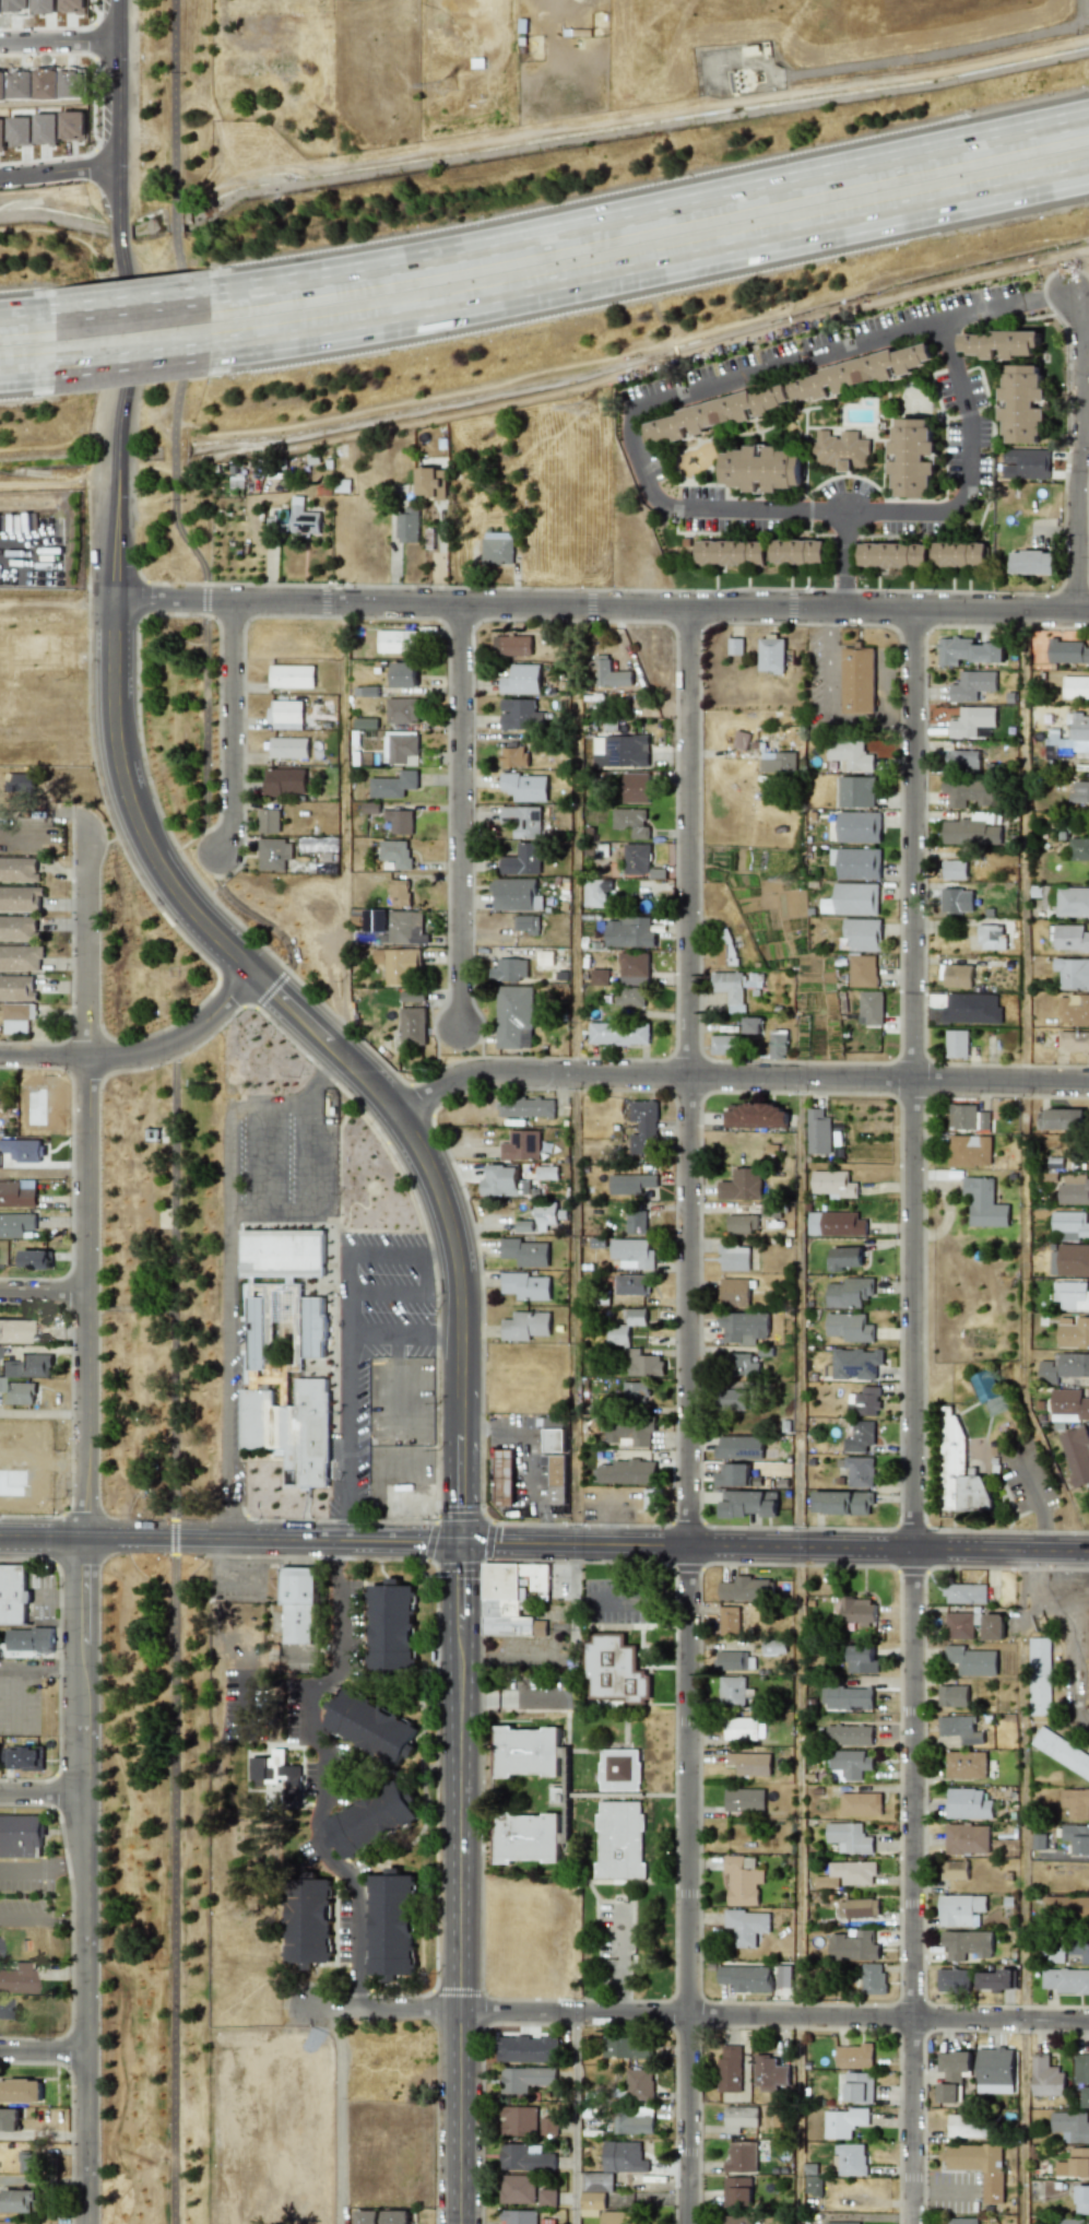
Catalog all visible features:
road: (1087, 9)
road: (60, 45)
power tower: (449, 87)
road: (59, 177)
road: (658, 205)
road: (118, 220)
road: (804, 239)
road: (140, 295)
road: (1045, 296)
road: (27, 308)
road: (1084, 322)
road: (370, 329)
building: (1002, 343)
road: (138, 366)
building: (854, 374)
road: (27, 377)
building: (1023, 403)
power tower: (589, 407)
road: (650, 407)
building: (721, 413)
road: (1079, 447)
building: (841, 450)
building: (913, 458)
building: (1025, 463)
building: (762, 468)
road: (966, 474)
building: (430, 482)
road: (58, 483)
road: (115, 519)
building: (304, 520)
building: (279, 522)
building: (406, 526)
building: (497, 548)
building: (797, 551)
building: (731, 552)
building: (960, 554)
building: (893, 555)
building: (1032, 562)
road: (203, 568)
road: (600, 603)
road: (435, 619)
road: (830, 619)
road: (578, 620)
building: (396, 642)
building: (516, 645)
building: (735, 646)
building: (967, 651)
building: (1068, 651)
building: (771, 655)
building: (607, 673)
building: (404, 674)
building: (292, 676)
building: (521, 680)
building: (859, 680)
building: (972, 685)
building: (1076, 687)
road: (887, 690)
road: (830, 705)
road: (220, 707)
building: (402, 710)
building: (285, 715)
building: (520, 715)
building: (971, 721)
road: (902, 722)
road: (232, 726)
road: (140, 736)
building: (1069, 736)
building: (288, 748)
building: (400, 748)
building: (620, 751)
building: (512, 756)
building: (853, 756)
building: (962, 761)
building: (778, 762)
building: (284, 781)
building: (21, 782)
building: (392, 785)
building: (524, 787)
building: (636, 788)
building: (856, 791)
building: (967, 791)
building: (1080, 792)
road: (343, 803)
road: (459, 814)
building: (269, 820)
building: (524, 820)
building: (400, 821)
building: (630, 822)
road: (111, 824)
building: (859, 826)
building: (972, 829)
road: (575, 838)
building: (316, 844)
building: (1079, 849)
building: (273, 852)
building: (395, 852)
building: (637, 858)
building: (522, 860)
building: (855, 862)
building: (17, 869)
building: (955, 869)
power tower: (793, 880)
building: (595, 892)
building: (398, 893)
building: (514, 894)
building: (20, 898)
building: (852, 899)
building: (956, 901)
building: (1072, 902)
building: (369, 919)
building: (525, 923)
building: (406, 927)
building: (17, 928)
building: (629, 932)
building: (863, 933)
building: (994, 934)
building: (1070, 938)
building: (725, 946)
road: (72, 956)
building: (21, 957)
building: (545, 957)
building: (398, 964)
building: (509, 969)
building: (863, 970)
building: (634, 972)
building: (1073, 973)
building: (956, 976)
building: (599, 977)
road: (1027, 979)
building: (735, 987)
building: (16, 988)
building: (412, 997)
building: (630, 997)
road: (317, 998)
building: (871, 1008)
building: (972, 1008)
building: (1074, 1010)
building: (513, 1016)
building: (17, 1017)
building: (753, 1025)
building: (413, 1026)
building: (618, 1033)
building: (1075, 1040)
building: (724, 1044)
building: (778, 1044)
building: (957, 1044)
road: (335, 1047)
road: (141, 1054)
road: (569, 1058)
road: (133, 1070)
road: (737, 1078)
road: (329, 1081)
road: (246, 1104)
road: (286, 1104)
building: (524, 1107)
building: (755, 1116)
building: (968, 1117)
building: (1063, 1119)
building: (643, 1127)
building: (817, 1132)
building: (521, 1145)
building: (23, 1149)
building: (970, 1151)
road: (229, 1155)
road: (311, 1155)
road: (264, 1156)
building: (546, 1172)
road: (44, 1174)
building: (504, 1181)
building: (630, 1184)
building: (833, 1184)
building: (742, 1185)
building: (1074, 1190)
building: (17, 1193)
building: (984, 1203)
road: (248, 1207)
road: (289, 1208)
building: (545, 1215)
building: (636, 1220)
building: (15, 1224)
building: (742, 1224)
building: (836, 1224)
building: (1069, 1225)
road: (438, 1240)
road: (386, 1251)
building: (282, 1252)
building: (524, 1252)
building: (632, 1252)
building: (734, 1257)
building: (843, 1258)
building: (35, 1259)
building: (1069, 1259)
road: (425, 1273)
building: (631, 1284)
building: (525, 1286)
road: (44, 1291)
building: (734, 1292)
building: (849, 1293)
building: (1069, 1295)
road: (386, 1297)
building: (637, 1317)
building: (308, 1322)
building: (525, 1326)
building: (743, 1327)
building: (849, 1327)
building: (12, 1331)
building: (256, 1332)
building: (1074, 1333)
road: (390, 1334)
road: (448, 1334)
building: (618, 1334)
road: (232, 1356)
building: (642, 1363)
building: (855, 1363)
building: (741, 1365)
building: (27, 1366)
building: (1063, 1367)
road: (575, 1368)
power tower: (1008, 1377)
road: (344, 1381)
building: (0, 1384)
building: (635, 1392)
building: (989, 1392)
building: (19, 1393)
building: (733, 1400)
building: (864, 1402)
building: (1068, 1405)
road: (44, 1413)
road: (690, 1414)
road: (916, 1414)
building: (291, 1429)
road: (493, 1429)
building: (628, 1432)
building: (860, 1436)
building: (555, 1439)
building: (739, 1447)
road: (524, 1452)
building: (1076, 1455)
building: (958, 1470)
building: (860, 1471)
building: (626, 1472)
road: (533, 1473)
building: (733, 1475)
building: (504, 1476)
building: (557, 1480)
building: (652, 1499)
building: (842, 1502)
building: (748, 1503)
road: (1042, 1503)
road: (542, 1508)
road: (233, 1521)
road: (344, 1526)
road: (85, 1529)
road: (230, 1538)
road: (776, 1545)
road: (216, 1578)
building: (747, 1589)
building: (966, 1593)
building: (13, 1595)
road: (58, 1597)
building: (512, 1598)
road: (600, 1600)
building: (297, 1604)
building: (857, 1611)
building: (729, 1621)
building: (959, 1625)
building: (993, 1626)
building: (391, 1627)
building: (28, 1639)
road: (174, 1645)
building: (773, 1647)
road: (802, 1651)
road: (507, 1655)
building: (861, 1659)
building: (732, 1660)
building: (971, 1660)
road: (39, 1664)
building: (614, 1670)
building: (1039, 1676)
building: (731, 1692)
road: (19, 1694)
road: (508, 1695)
building: (952, 1695)
building: (847, 1697)
building: (371, 1727)
building: (741, 1728)
building: (960, 1729)
building: (849, 1734)
building: (525, 1751)
building: (1062, 1752)
building: (23, 1757)
building: (749, 1763)
building: (851, 1763)
building: (964, 1765)
building: (619, 1769)
building: (277, 1773)
road: (322, 1774)
road: (40, 1792)
building: (556, 1796)
building: (744, 1800)
building: (860, 1803)
building: (1076, 1803)
building: (967, 1804)
building: (371, 1820)
building: (21, 1836)
building: (1077, 1837)
building: (526, 1838)
building: (849, 1838)
building: (967, 1838)
building: (619, 1839)
road: (42, 1868)
building: (956, 1870)
building: (848, 1874)
building: (743, 1880)
road: (462, 1882)
road: (1029, 1886)
building: (1066, 1906)
building: (859, 1907)
building: (961, 1909)
road: (43, 1920)
building: (307, 1921)
building: (391, 1926)
building: (746, 1926)
building: (967, 1944)
building: (853, 1946)
building: (1079, 1946)
building: (1053, 1955)
building: (746, 1978)
building: (873, 1978)
building: (16, 1979)
building: (954, 1979)
building: (995, 1980)
building: (1066, 1980)
building: (4, 2008)
road: (684, 2013)
building: (625, 2047)
building: (526, 2049)
road: (43, 2050)
building: (854, 2056)
building: (995, 2066)
building: (1081, 2068)
building: (730, 2069)
building: (951, 2073)
building: (771, 2074)
building: (1045, 2076)
building: (525, 2079)
building: (639, 2084)
building: (859, 2087)
building: (20, 2091)
building: (1085, 2097)
road: (334, 2114)
road: (576, 2118)
building: (739, 2118)
building: (9, 2119)
building: (518, 2120)
building: (632, 2120)
building: (843, 2122)
building: (548, 2126)
building: (968, 2126)
building: (1070, 2126)
building: (741, 2156)
building: (623, 2157)
building: (524, 2158)
building: (851, 2158)
building: (28, 2161)
building: (1079, 2162)
building: (980, 2166)
road: (43, 2181)
building: (597, 2181)
building: (813, 2185)
building: (517, 2189)
building: (737, 2191)
road: (944, 2191)
building: (547, 2197)
building: (1081, 2199)
building: (17, 2201)
building: (592, 2204)
building: (367, 2216)
building: (396, 2216)
building: (518, 2216)
building: (617, 2217)
building: (738, 2220)
building: (961, 2221)
building: (17, 2222)
building: (841, 2223)

